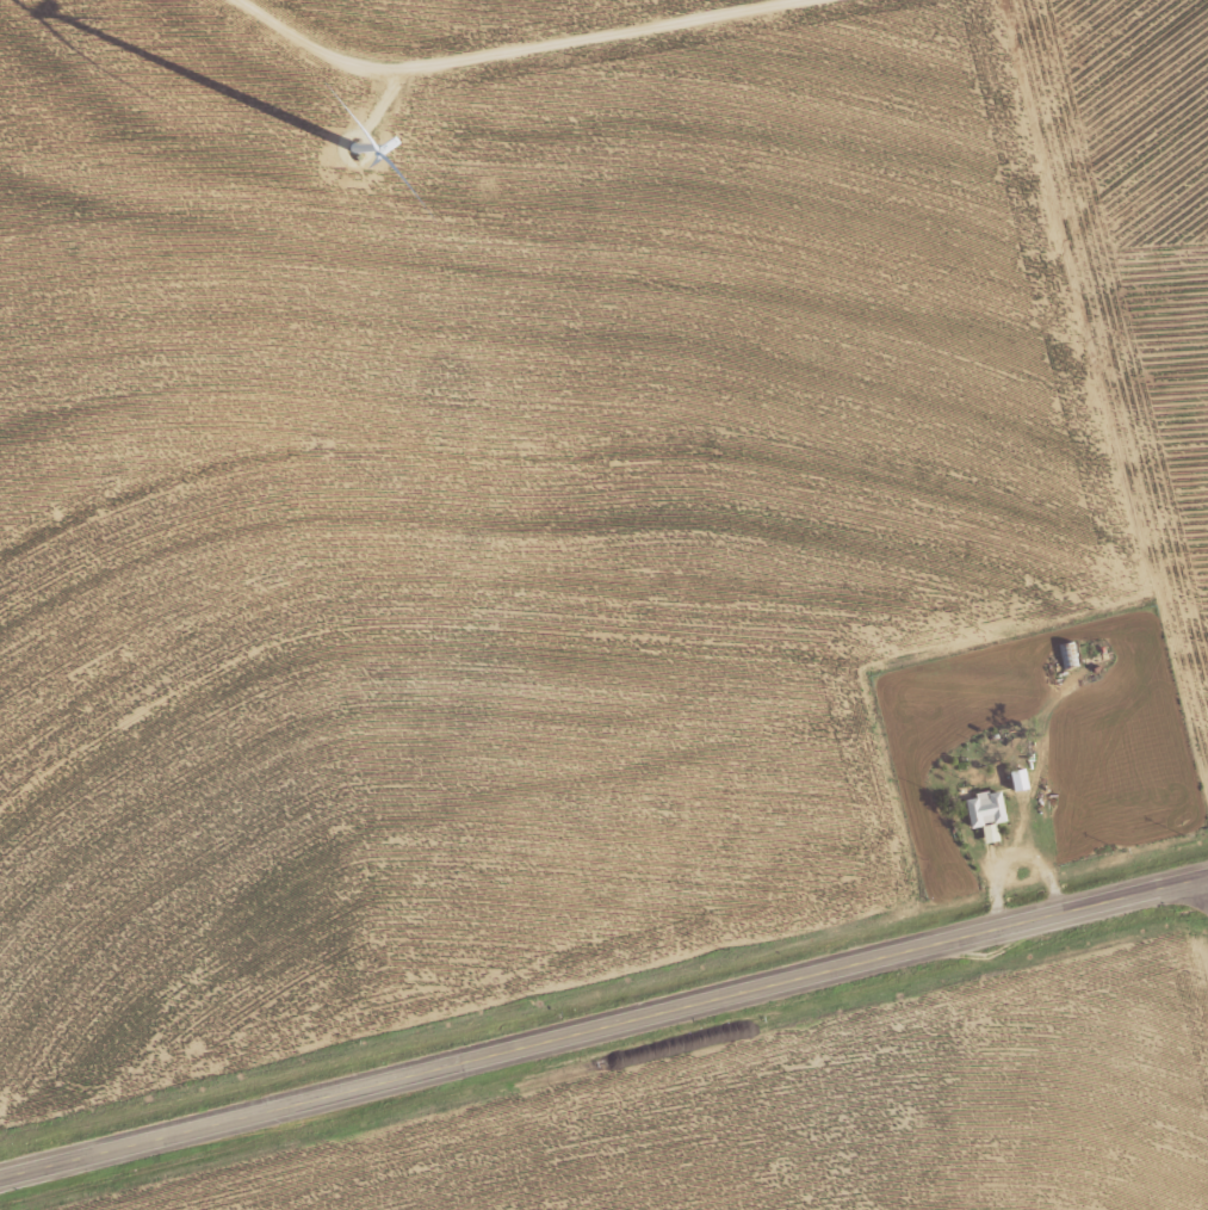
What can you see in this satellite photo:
road: (510, 51)
wind turbine: (380, 137)
building: (1020, 778)
road: (603, 1024)

